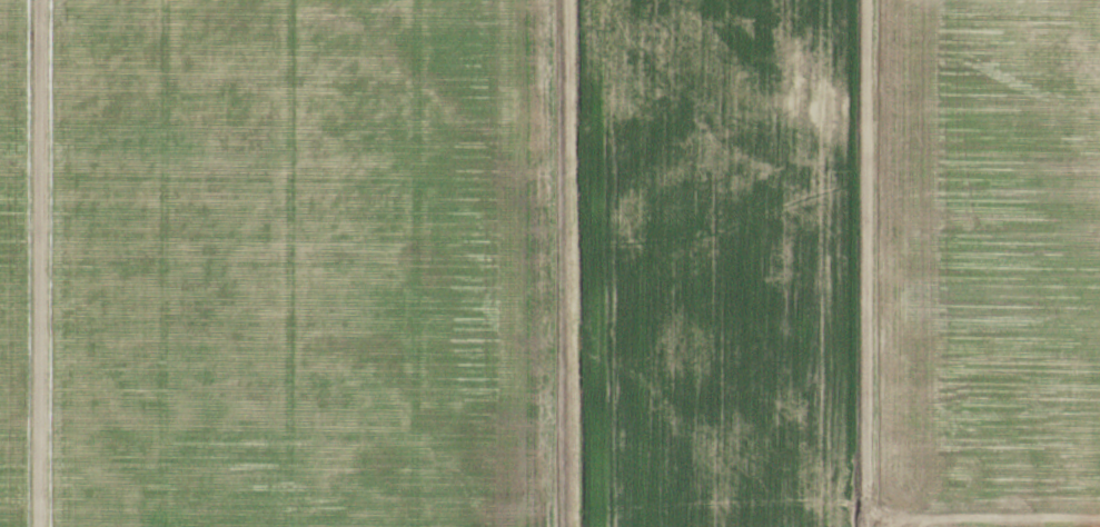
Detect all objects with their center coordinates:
road: (568, 263)

